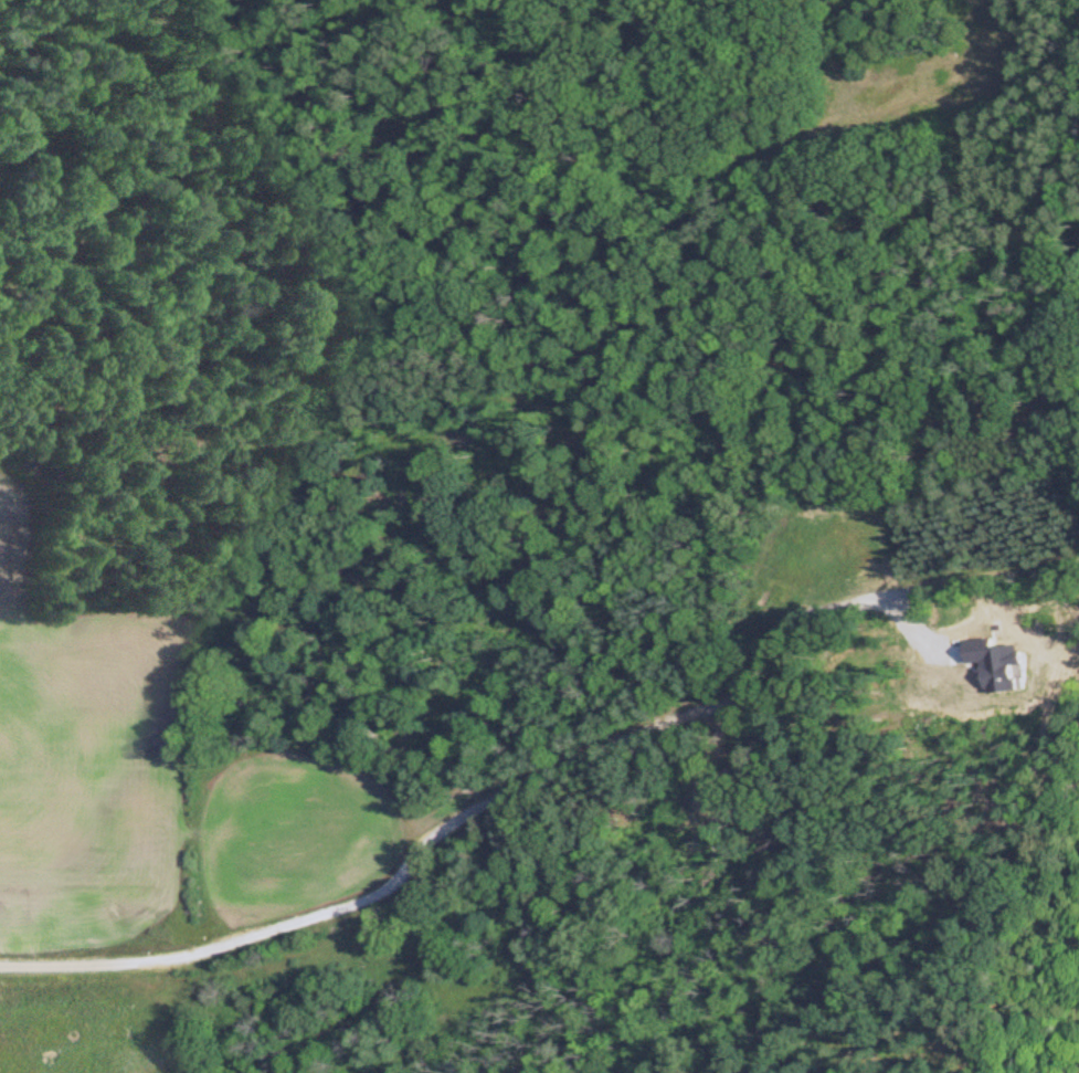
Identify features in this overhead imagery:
road: (260, 932)

